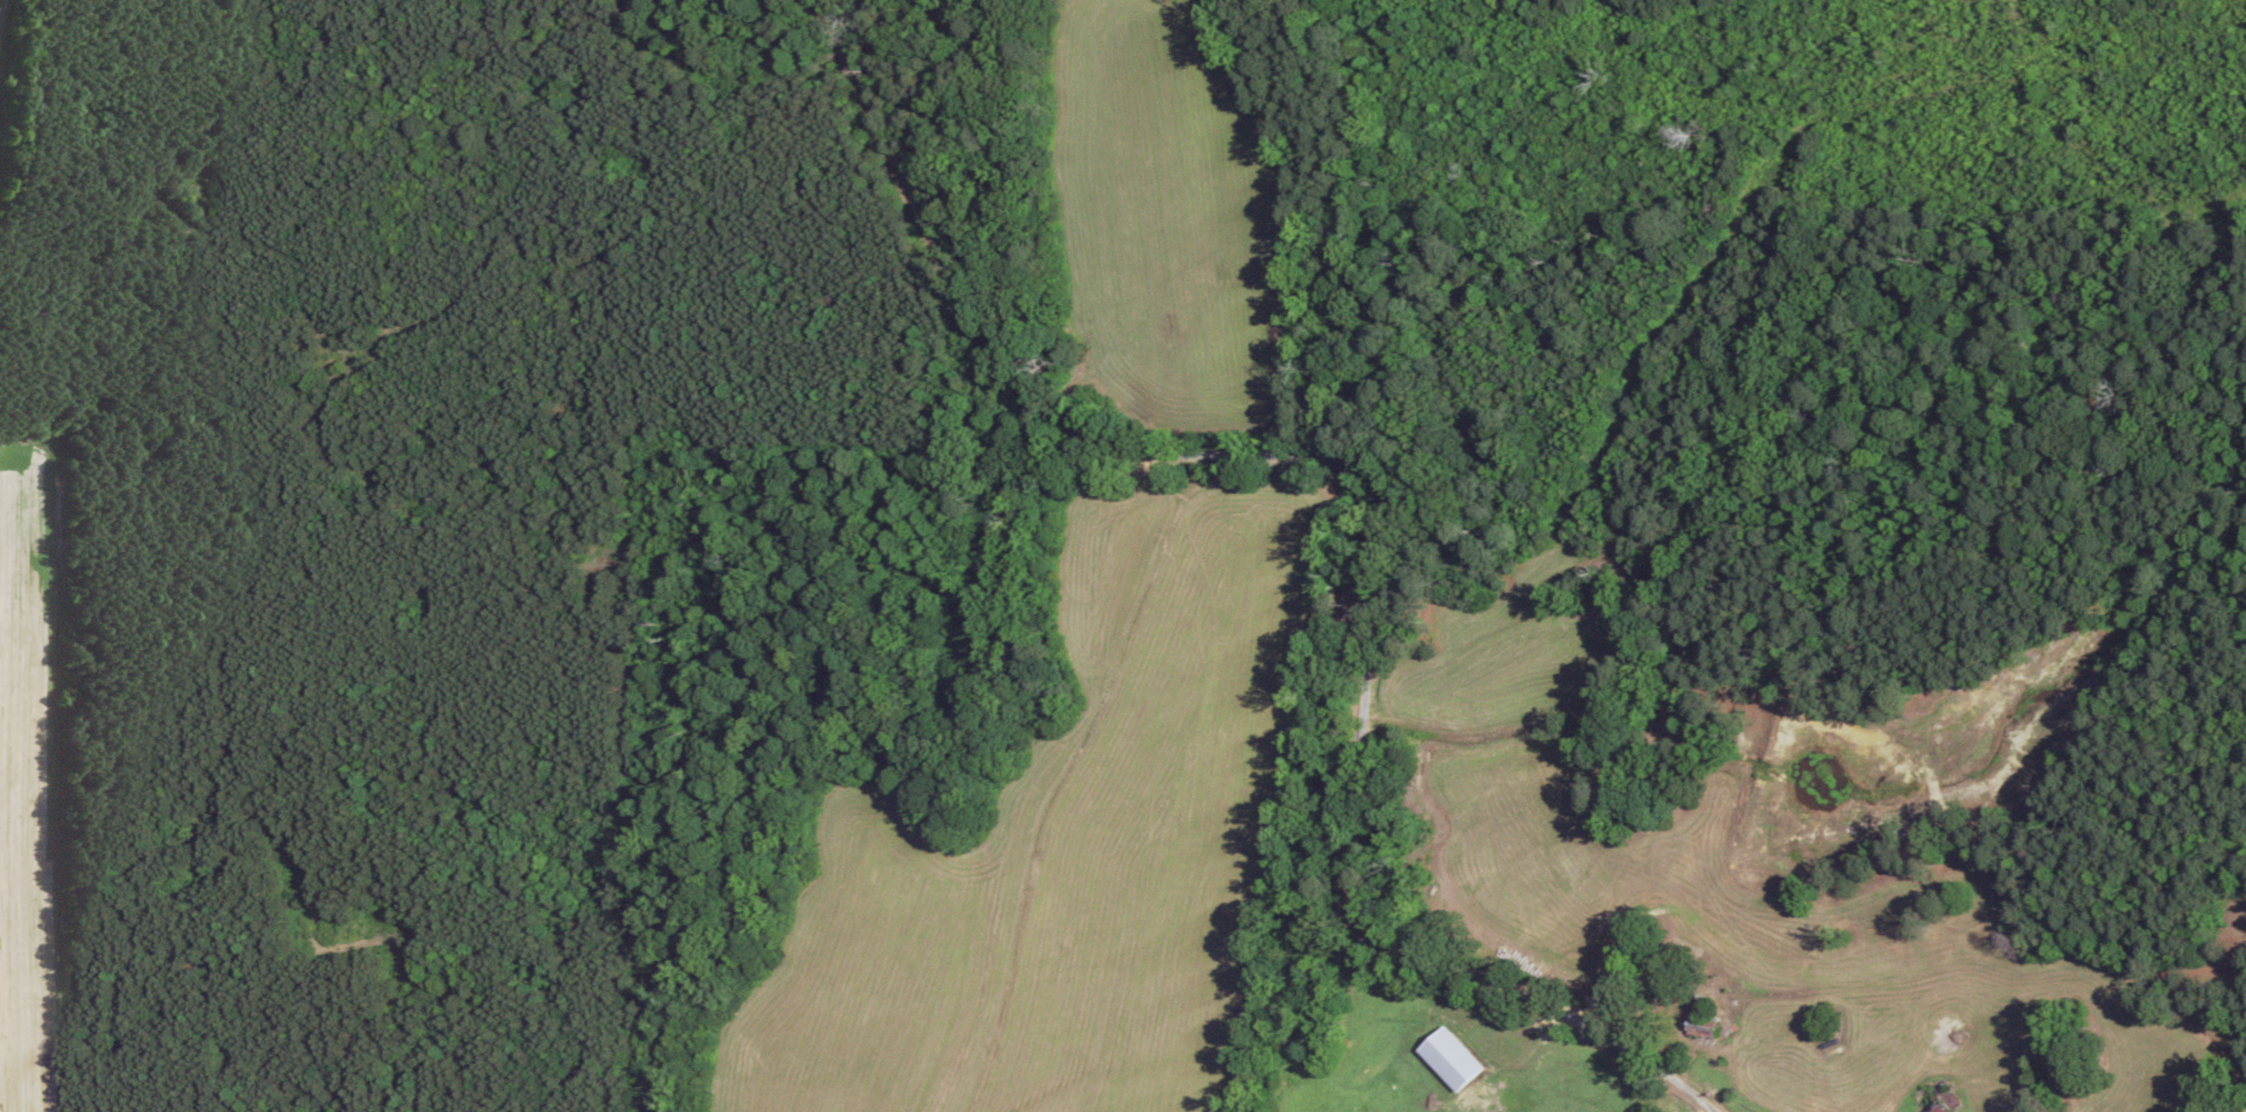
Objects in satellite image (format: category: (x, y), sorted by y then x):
road: (1385, 487)
building: (1444, 1060)

